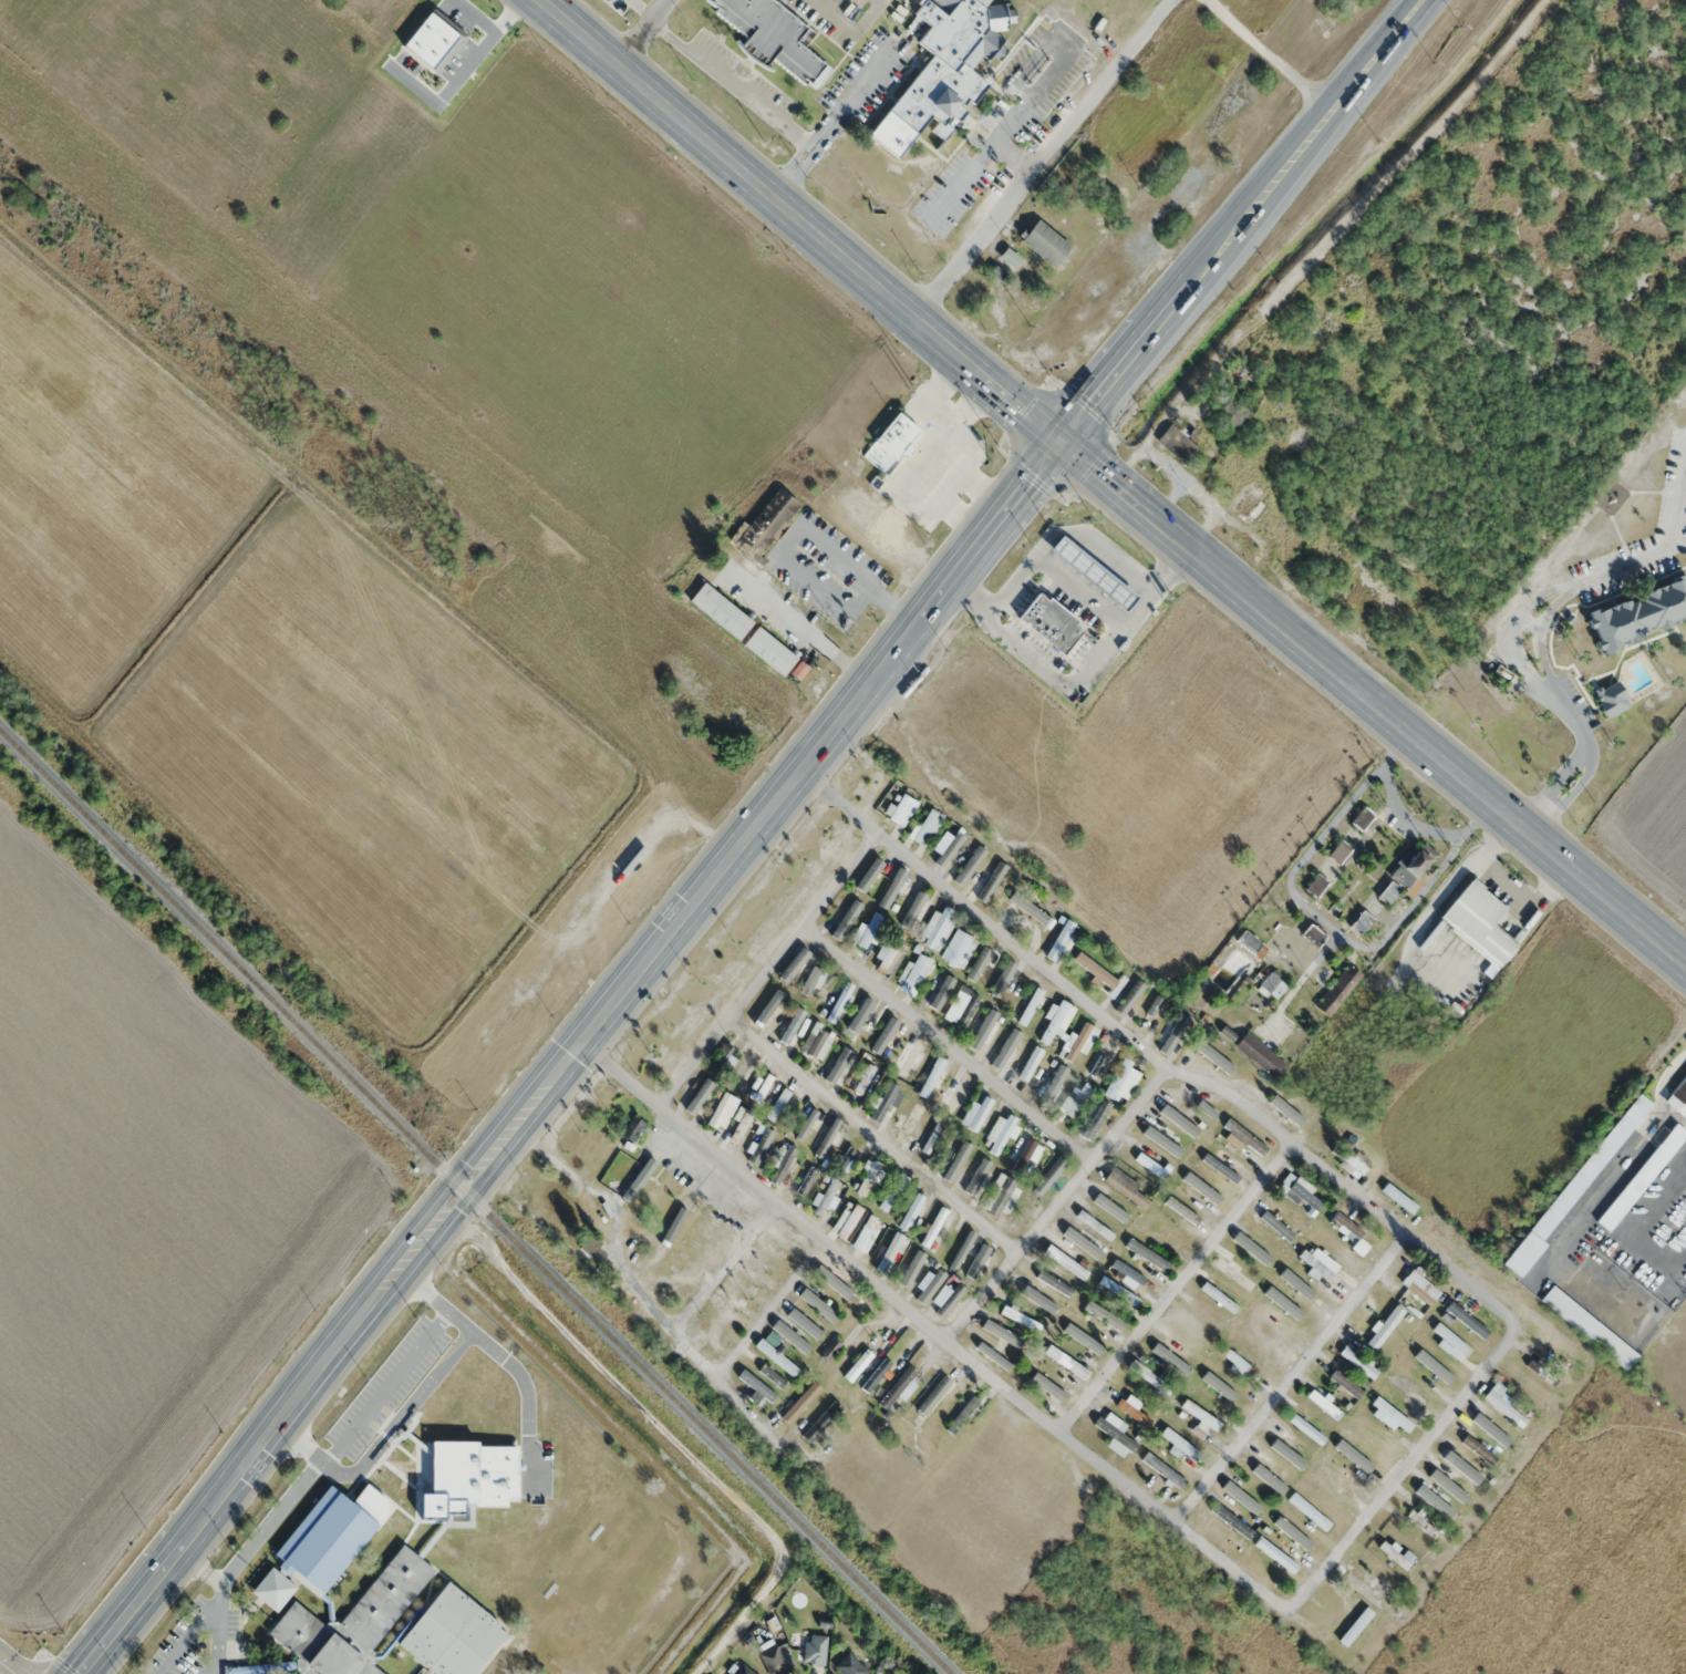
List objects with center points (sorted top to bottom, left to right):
road: (640, 31)
building: (772, 38)
building: (944, 69)
road: (1041, 159)
road: (1244, 223)
building: (1035, 239)
building: (1010, 259)
building: (1234, 412)
building: (896, 435)
traffic signals: (1057, 442)
building: (1176, 442)
building: (943, 473)
road: (1111, 486)
building: (1249, 499)
building: (765, 524)
building: (1090, 572)
building: (720, 611)
building: (1638, 614)
road: (1545, 621)
building: (1049, 623)
building: (769, 651)
building: (798, 670)
building: (1611, 700)
building: (900, 809)
building: (1363, 819)
building: (923, 826)
building: (952, 841)
building: (1340, 852)
building: (987, 885)
building: (1316, 886)
building: (1026, 906)
building: (912, 910)
building: (845, 917)
building: (1478, 922)
building: (1362, 923)
building: (868, 929)
building: (938, 929)
building: (1313, 936)
building: (1058, 939)
building: (1250, 944)
building: (956, 949)
building: (889, 952)
building: (984, 964)
road: (766, 968)
building: (1094, 970)
building: (811, 981)
building: (1001, 983)
building: (1273, 986)
building: (1340, 990)
building: (937, 991)
building: (839, 1002)
building: (962, 1006)
building: (1030, 1006)
building: (1151, 1014)
building: (861, 1020)
building: (1056, 1020)
building: (792, 1025)
building: (987, 1029)
building: (1171, 1032)
road: (947, 1043)
building: (1007, 1044)
building: (1260, 1056)
road: (571, 1057)
building: (906, 1058)
building: (722, 1061)
building: (839, 1061)
building: (1216, 1063)
building: (1031, 1064)
building: (741, 1074)
road: (1186, 1074)
building: (931, 1077)
building: (863, 1079)
building: (1121, 1081)
building: (759, 1087)
building: (1054, 1087)
building: (954, 1097)
building: (1678, 1097)
building: (1075, 1102)
building: (777, 1106)
building: (1202, 1108)
building: (722, 1112)
building: (976, 1114)
building: (739, 1126)
building: (632, 1128)
road: (872, 1134)
building: (999, 1134)
building: (1244, 1137)
building: (828, 1139)
building: (931, 1139)
building: (1162, 1140)
building: (1022, 1153)
building: (961, 1155)
building: (779, 1164)
road: (562, 1165)
building: (1151, 1167)
building: (1221, 1170)
road: (628, 1176)
building: (1642, 1177)
building: (867, 1178)
building: (978, 1179)
building: (1576, 1187)
building: (1126, 1189)
building: (1203, 1190)
building: (892, 1192)
building: (1303, 1195)
building: (1000, 1197)
building: (825, 1198)
building: (1398, 1199)
railway: (475, 1200)
building: (910, 1211)
building: (934, 1228)
building: (1268, 1228)
road: (1024, 1242)
building: (590, 1246)
building: (953, 1249)
building: (891, 1254)
building: (1147, 1255)
building: (1065, 1262)
road: (723, 1265)
building: (1314, 1265)
building: (1127, 1274)
building: (1232, 1274)
building: (841, 1283)
road: (1175, 1285)
building: (1420, 1286)
building: (1118, 1291)
road: (645, 1298)
building: (1037, 1301)
building: (818, 1304)
building: (1214, 1304)
road: (767, 1306)
building: (1020, 1319)
building: (1466, 1319)
building: (1385, 1327)
building: (1589, 1329)
road: (931, 1331)
building: (1004, 1335)
building: (792, 1339)
building: (1047, 1357)
road: (506, 1360)
building: (1237, 1363)
building: (1358, 1363)
building: (858, 1366)
building: (1431, 1366)
building: (1541, 1374)
building: (772, 1376)
building: (1150, 1377)
road: (1290, 1377)
building: (1345, 1385)
building: (899, 1388)
building: (935, 1394)
building: (1217, 1398)
building: (1055, 1401)
building: (1503, 1405)
building: (1326, 1409)
road: (748, 1412)
building: (966, 1412)
building: (1200, 1416)
building: (1114, 1422)
building: (1305, 1429)
road: (384, 1438)
building: (1177, 1443)
building: (1129, 1444)
building: (1478, 1450)
building: (1274, 1451)
building: (1374, 1459)
road: (1401, 1468)
building: (1163, 1470)
building: (1268, 1472)
building: (469, 1477)
building: (1334, 1478)
building: (1459, 1479)
building: (1244, 1502)
building: (1437, 1502)
building: (1309, 1511)
building: (1231, 1520)
road: (269, 1521)
building: (1421, 1525)
building: (322, 1543)
building: (1275, 1556)
building: (1396, 1557)
building: (1370, 1590)
road: (220, 1605)
building: (352, 1621)
building: (1355, 1626)
road: (188, 1634)
building: (453, 1634)
building: (815, 1650)
building: (776, 1661)
road: (8, 1666)
building: (742, 1670)

